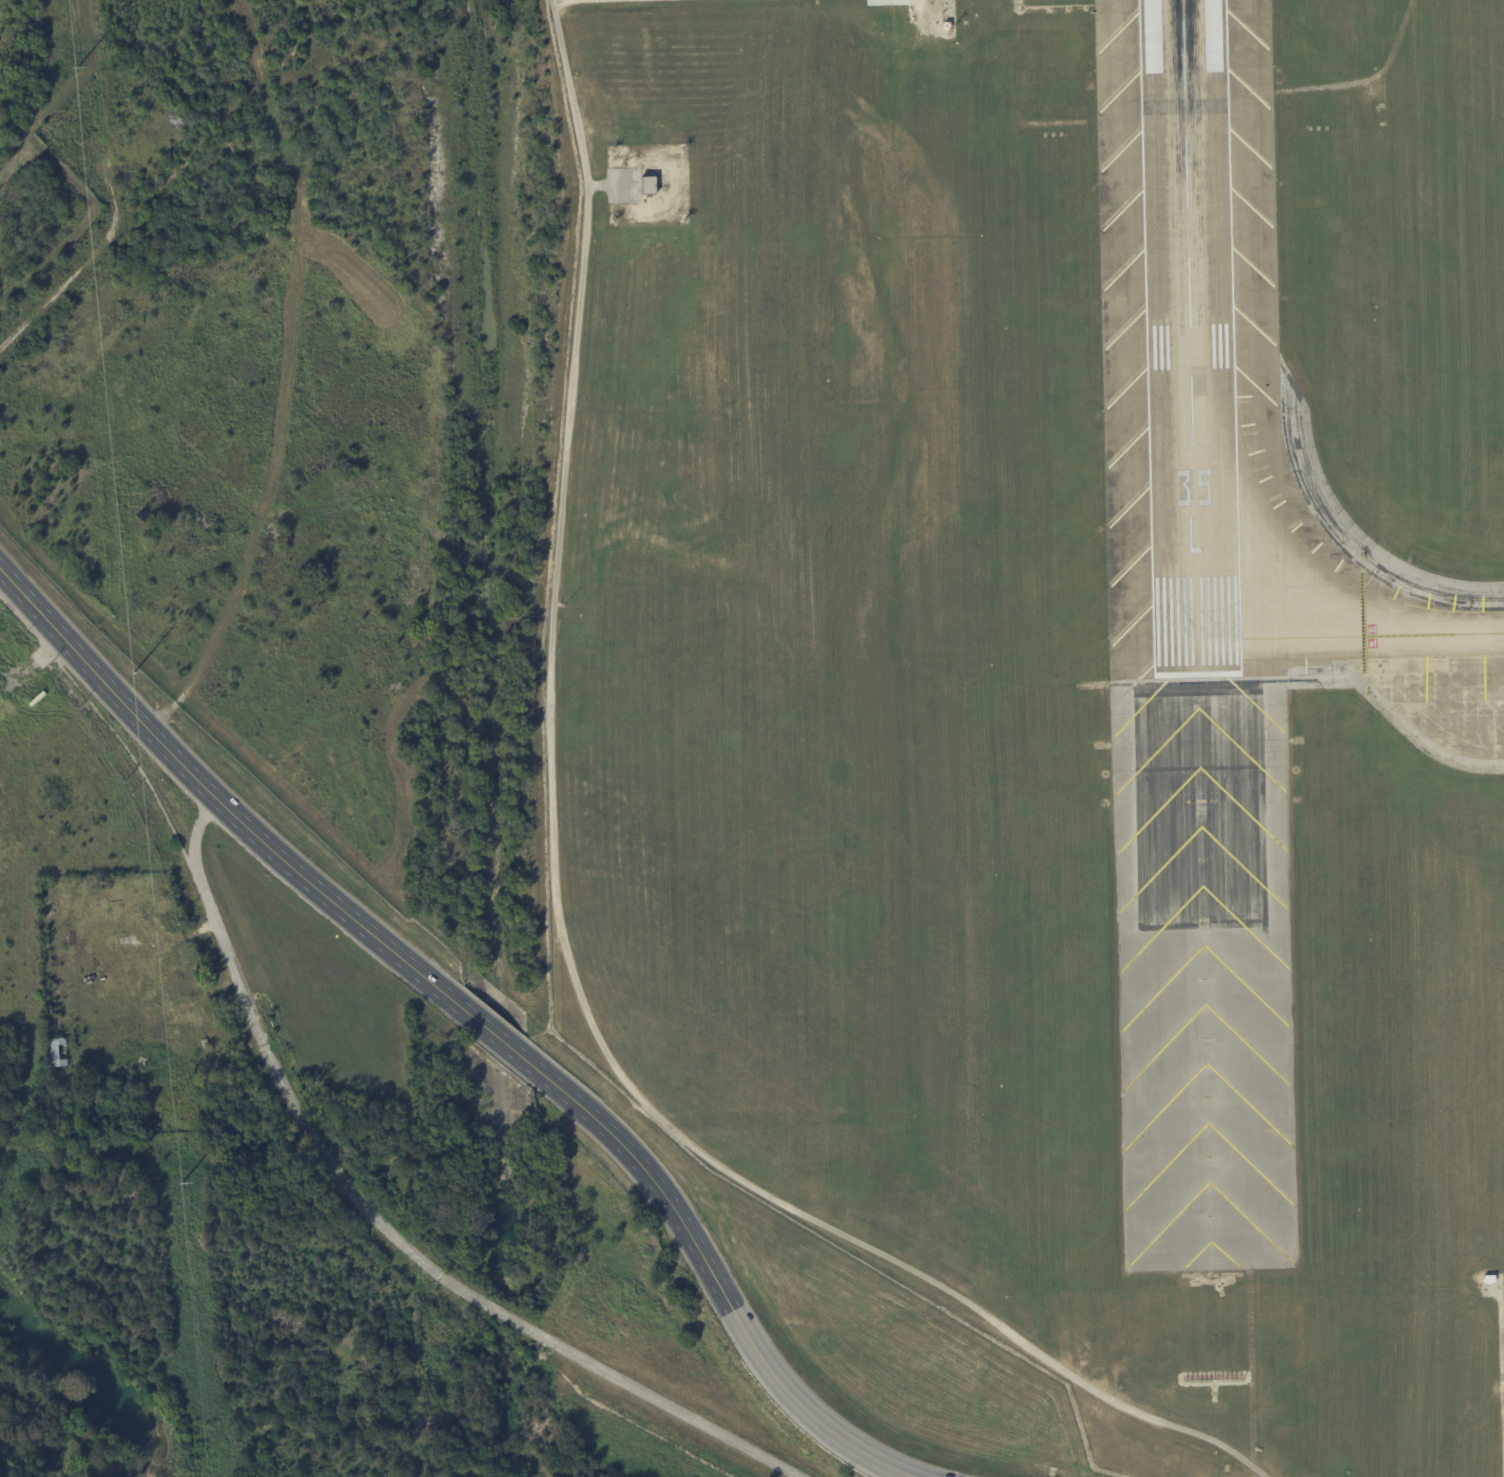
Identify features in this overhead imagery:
road: (561, 1)
building: (946, 25)
building: (175, 121)
building: (649, 185)
road: (83, 259)
airport runway: (1189, 336)
airport taxiway: (1330, 636)
airport: (1051, 701)
road: (121, 745)
road: (468, 1016)
building: (58, 1051)
road: (385, 1224)
building: (1489, 1279)
river: (88, 1380)

